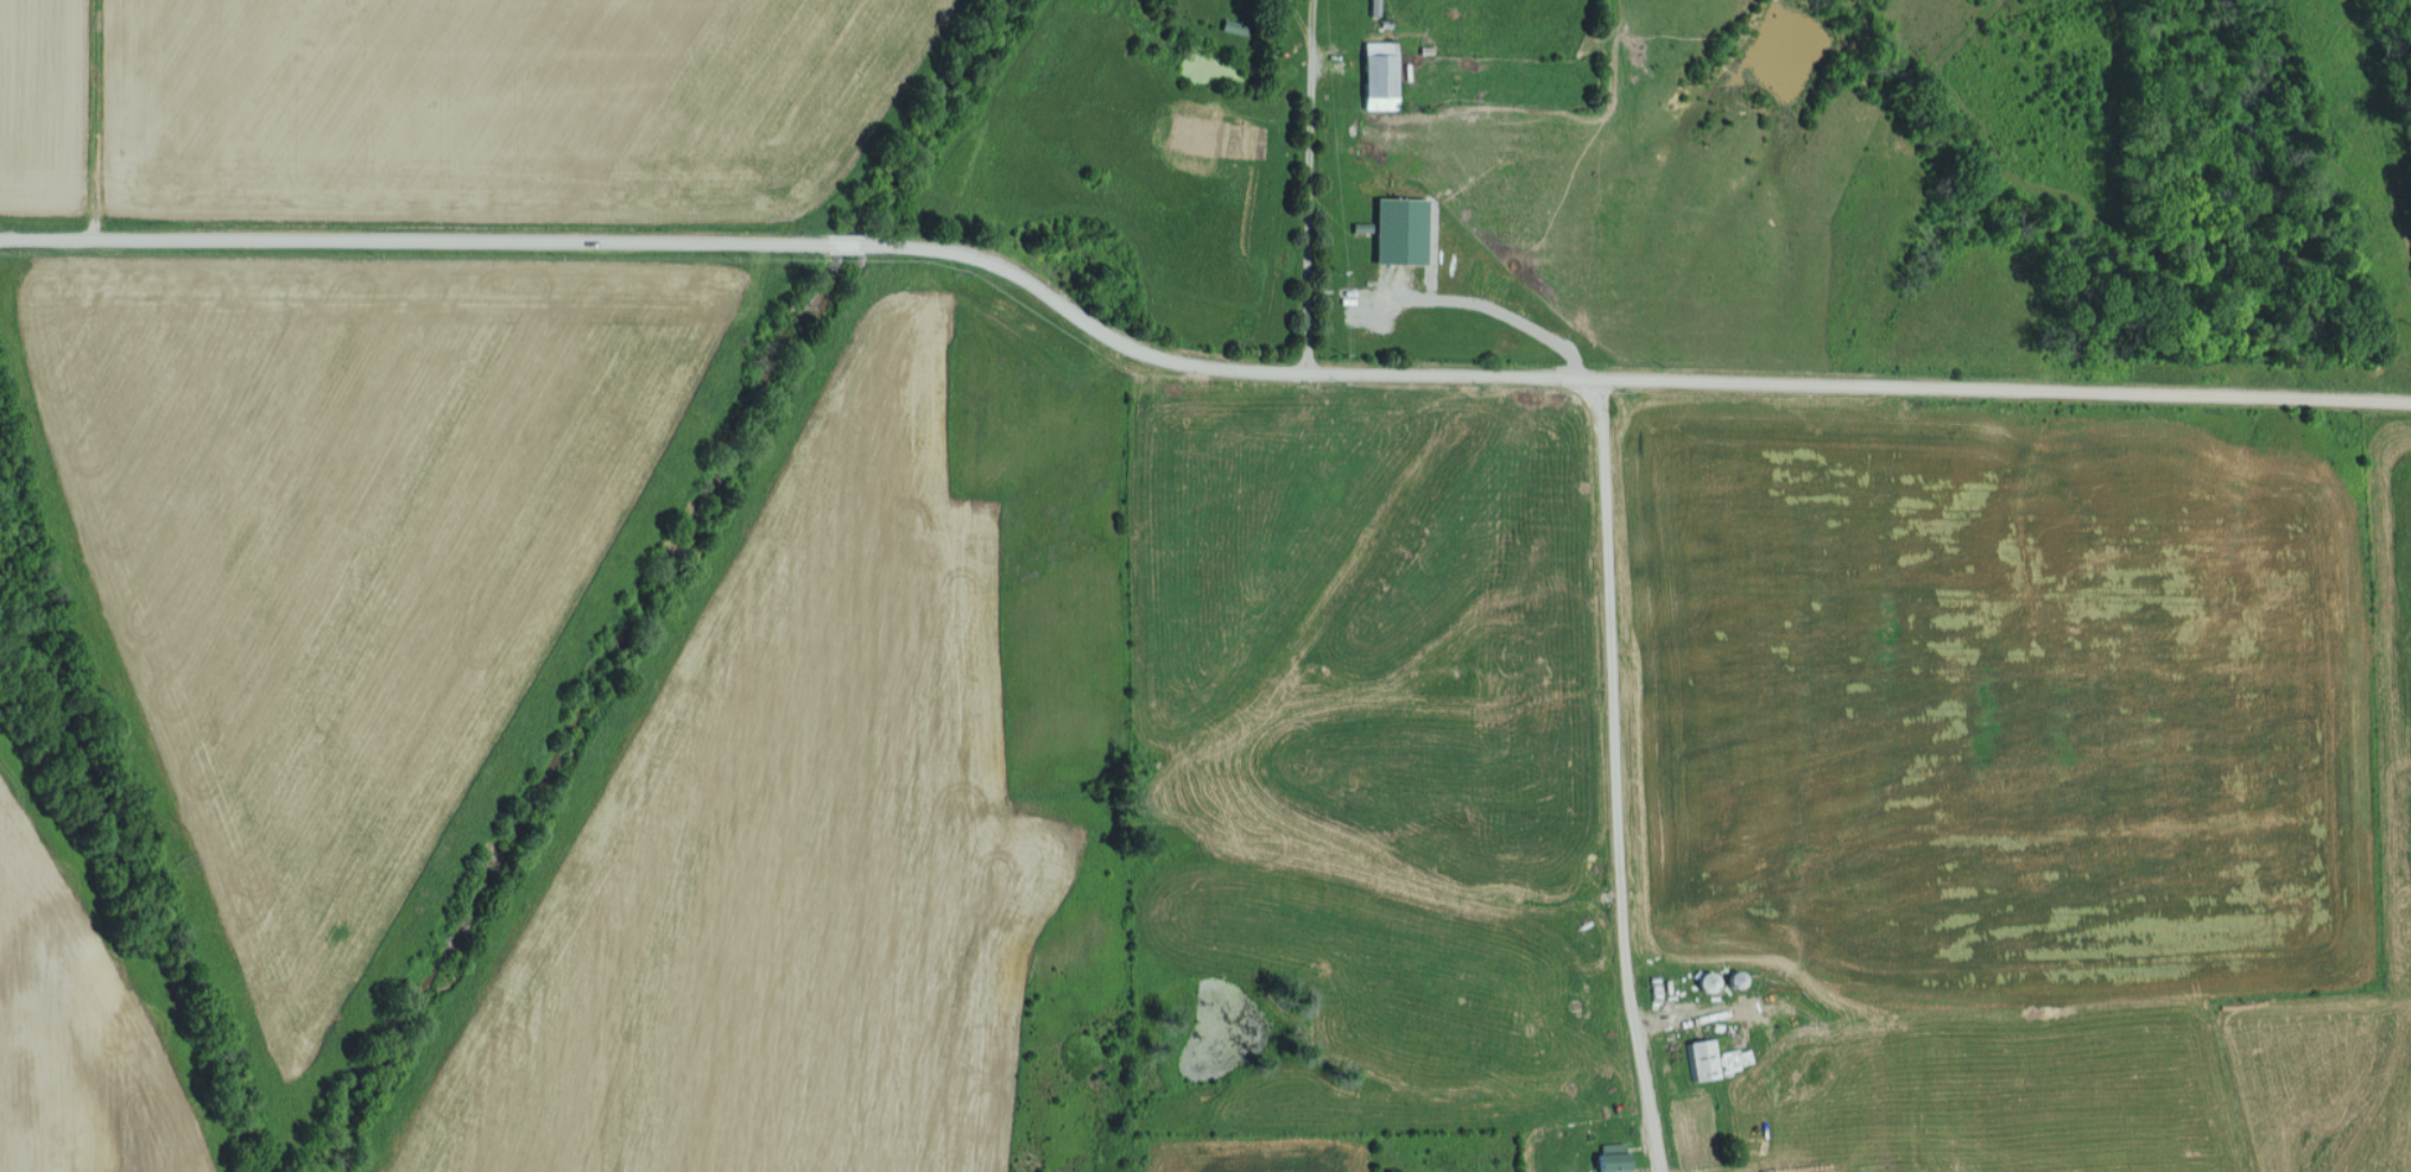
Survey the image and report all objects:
road: (1301, 18)
building: (1379, 75)
road: (1309, 178)
building: (1399, 230)
road: (1191, 354)
road: (1615, 772)
building: (1702, 1058)
building: (1612, 1158)

